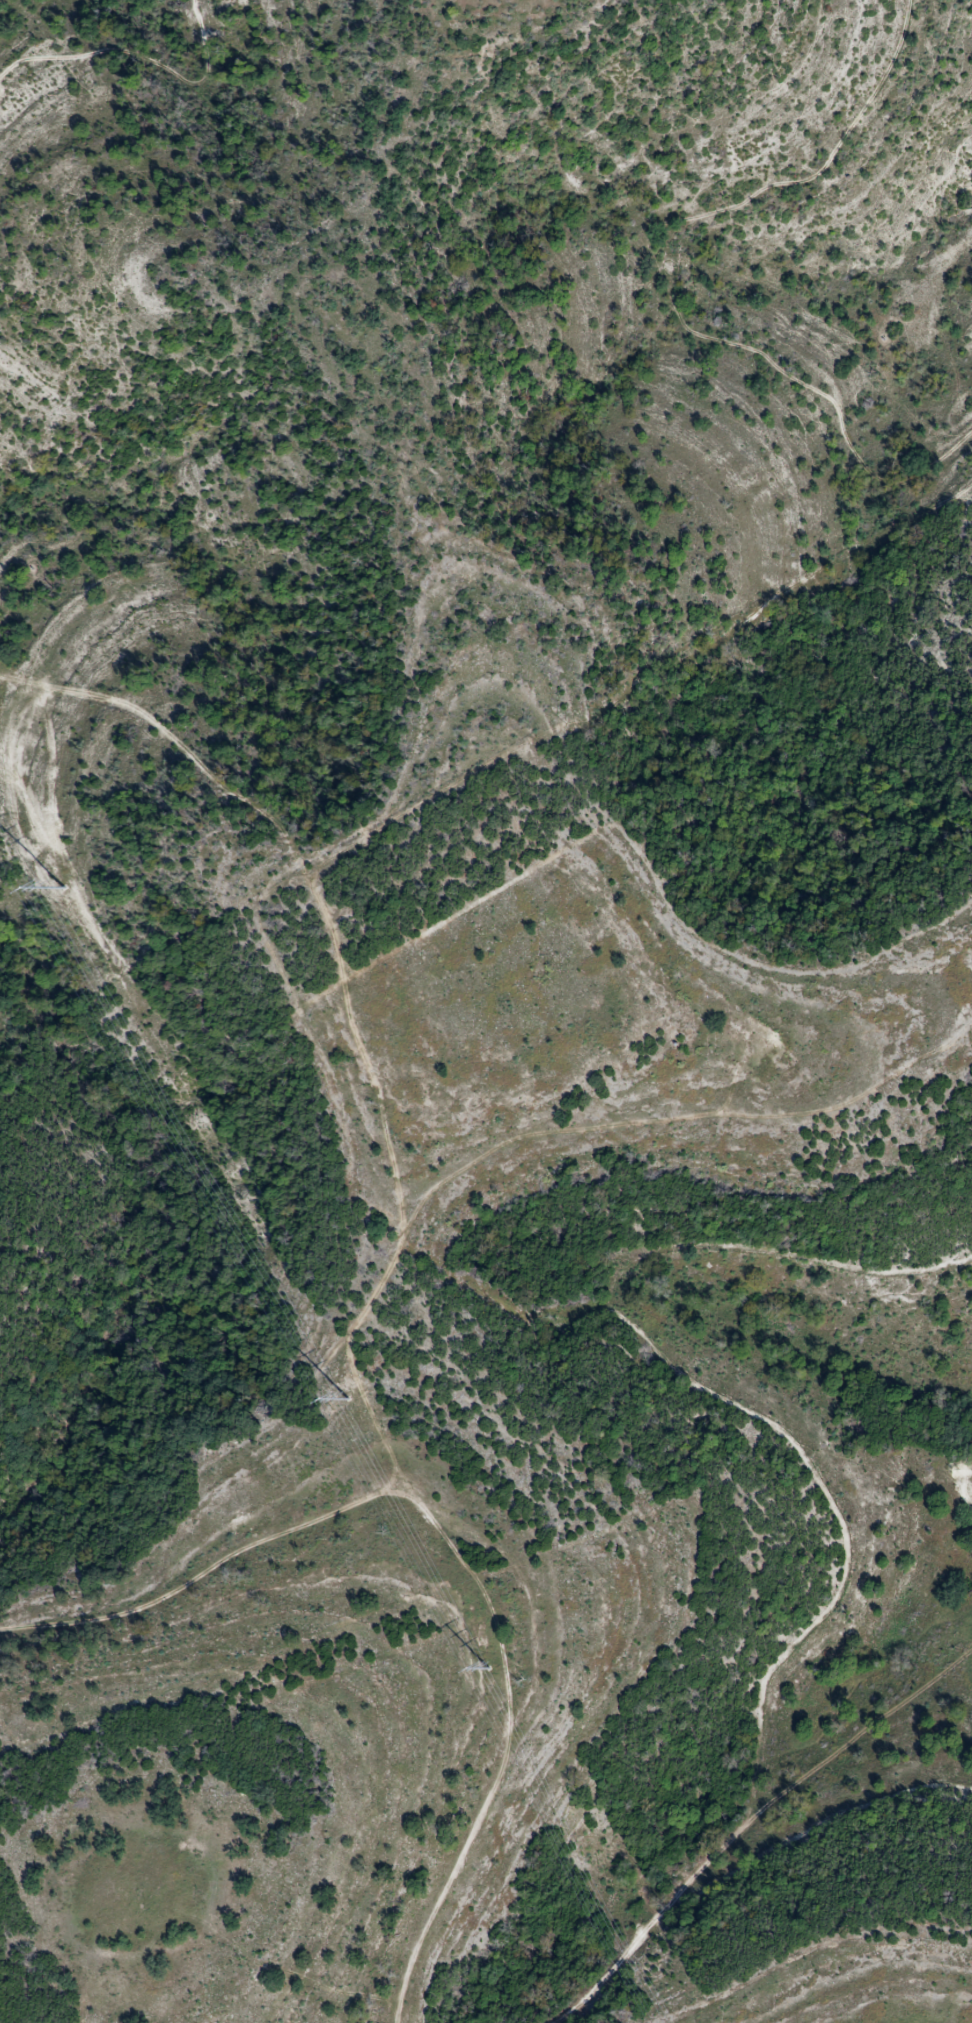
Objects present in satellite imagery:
power tower: (65, 888)
power tower: (347, 1398)
power tower: (491, 1668)

